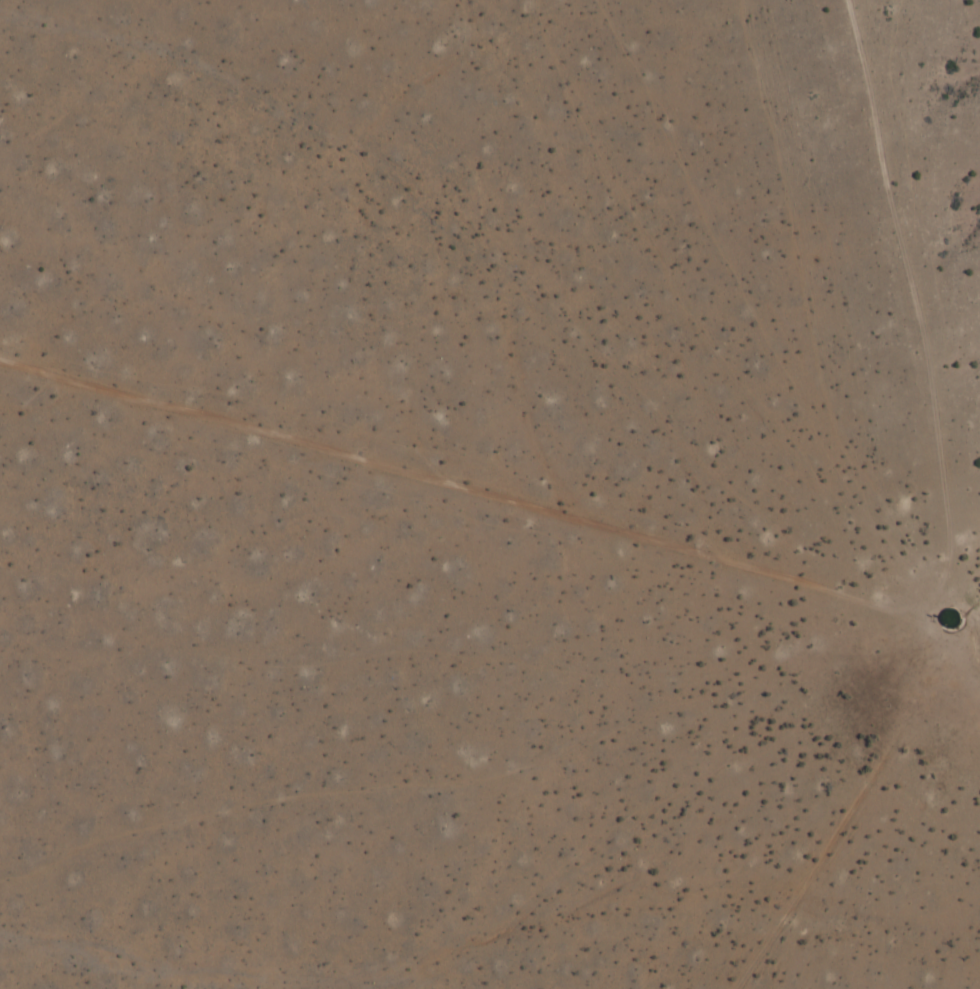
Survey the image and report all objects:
road: (919, 313)
road: (499, 498)
storage tank: (952, 620)
road: (849, 816)

